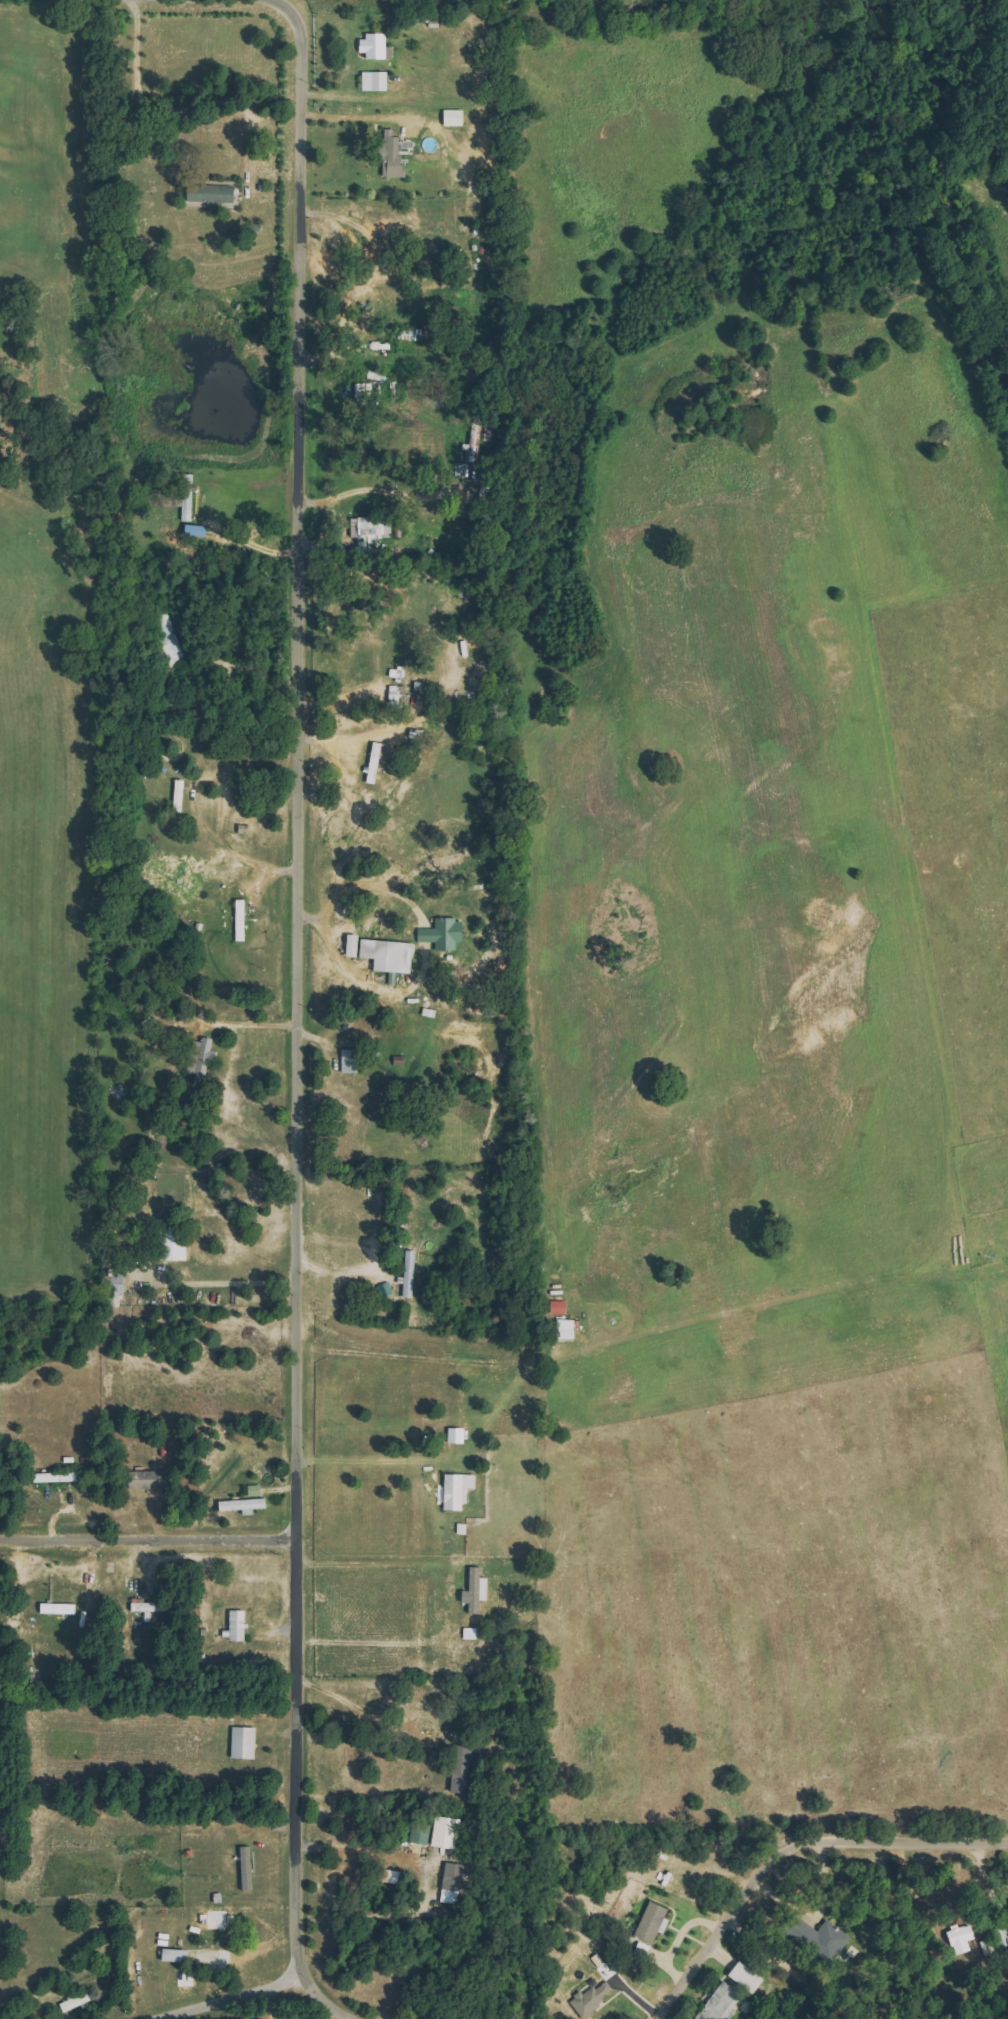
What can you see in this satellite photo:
building: (372, 46)
building: (371, 81)
building: (449, 118)
building: (389, 156)
building: (208, 195)
building: (369, 390)
building: (185, 497)
building: (372, 761)
building: (184, 880)
building: (441, 933)
building: (383, 956)
road: (295, 977)
building: (198, 1058)
building: (169, 1251)
building: (406, 1275)
building: (560, 1330)
building: (53, 1478)
building: (140, 1481)
building: (452, 1491)
building: (241, 1502)
road: (148, 1539)
building: (470, 1592)
building: (153, 1607)
building: (62, 1608)
building: (233, 1626)
building: (246, 1742)
building: (457, 1772)
building: (431, 1833)
road: (791, 1846)
building: (249, 1868)
building: (448, 1877)
building: (648, 1923)
building: (798, 1930)
building: (960, 1941)
building: (205, 1957)
building: (742, 1978)
road: (259, 1989)
building: (590, 1998)
building: (79, 2002)
building: (716, 2003)

